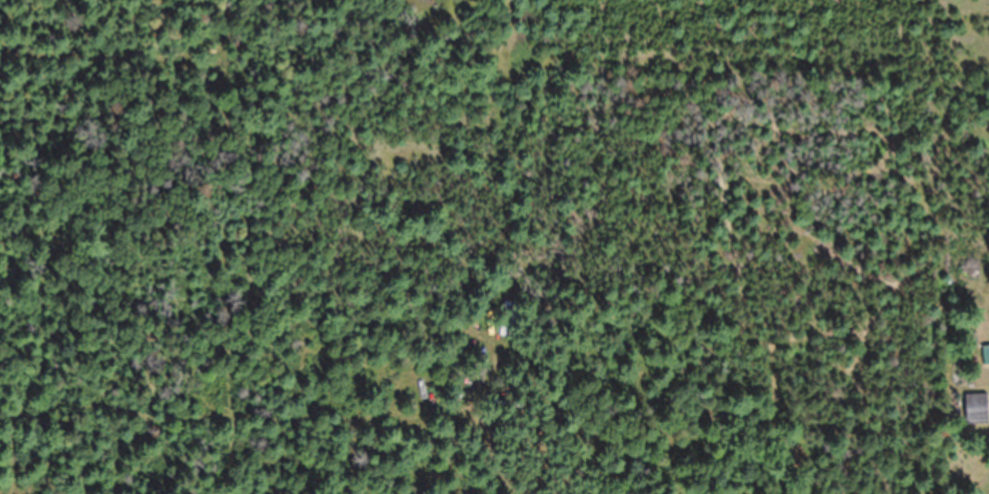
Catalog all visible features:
building: (975, 409)

